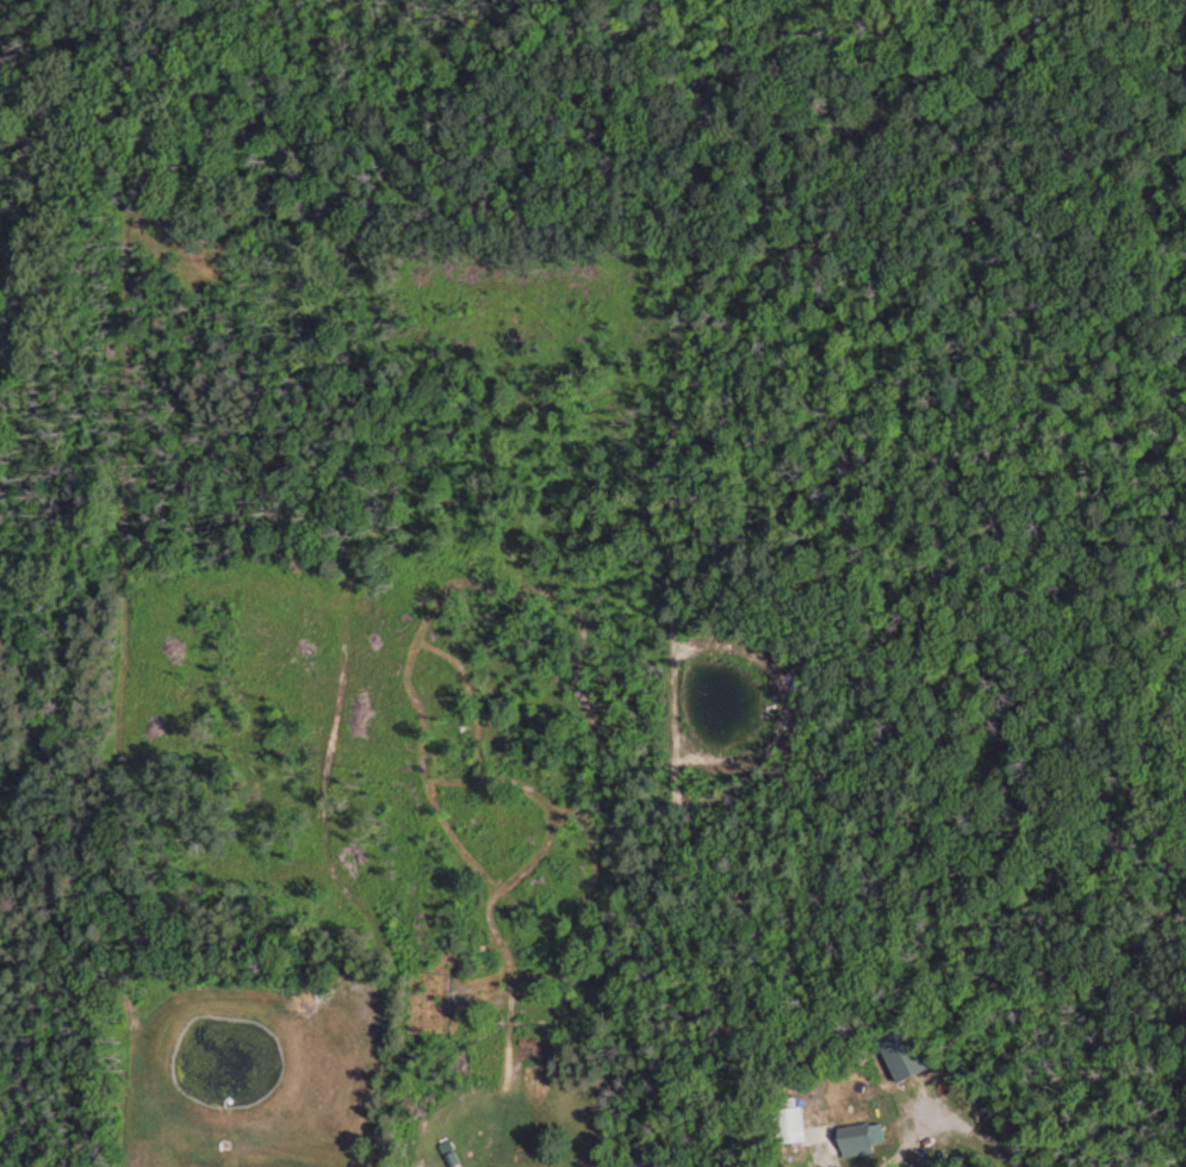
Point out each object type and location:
building: (896, 1055)
building: (782, 1113)
road: (949, 1132)
building: (855, 1137)
building: (492, 1166)

